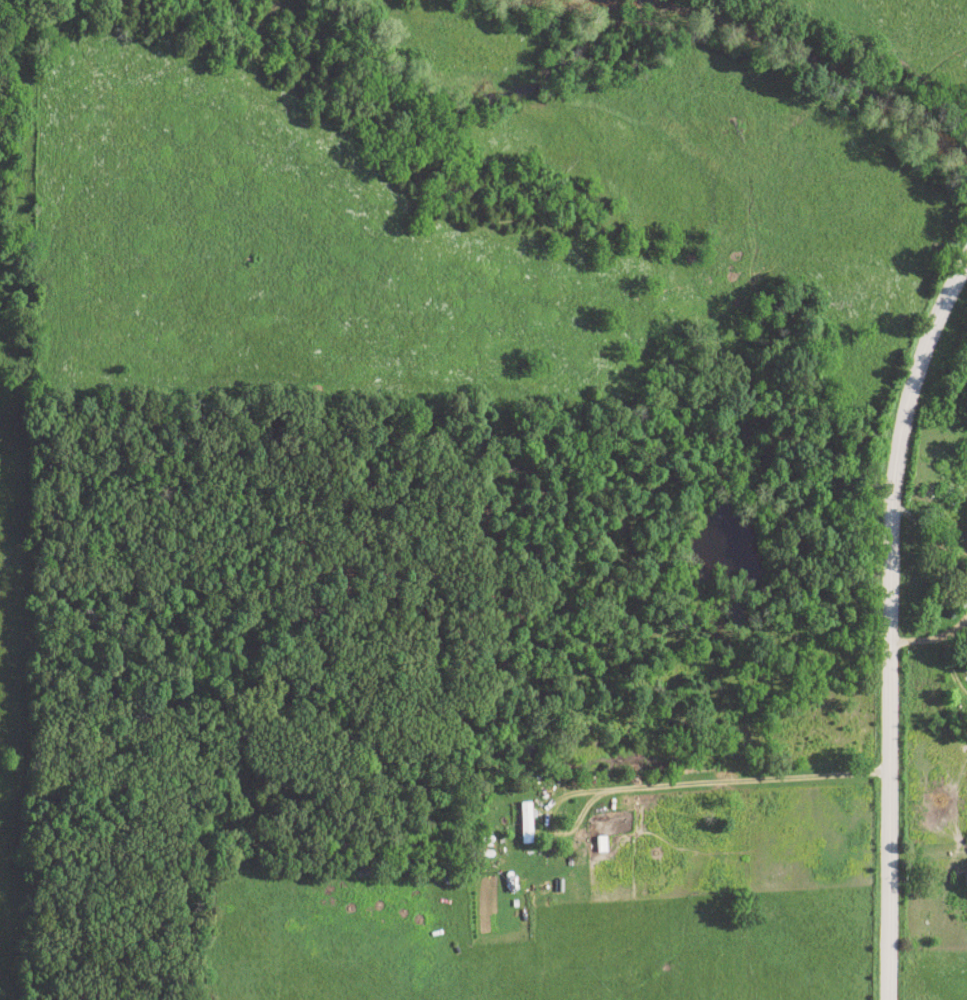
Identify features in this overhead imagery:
road: (928, 546)
road: (886, 616)
road: (932, 642)
road: (664, 785)
building: (527, 823)
building: (602, 845)
road: (924, 856)

